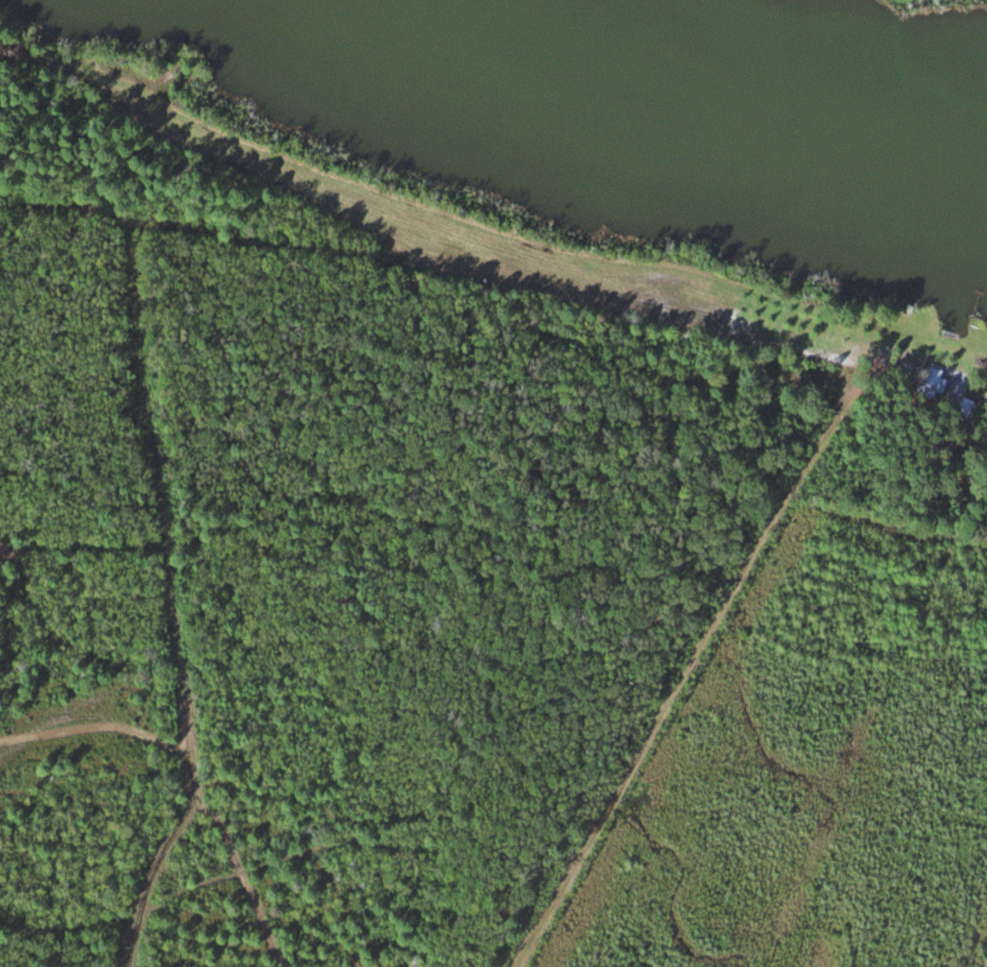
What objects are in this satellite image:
building: (932, 382)
building: (966, 408)

